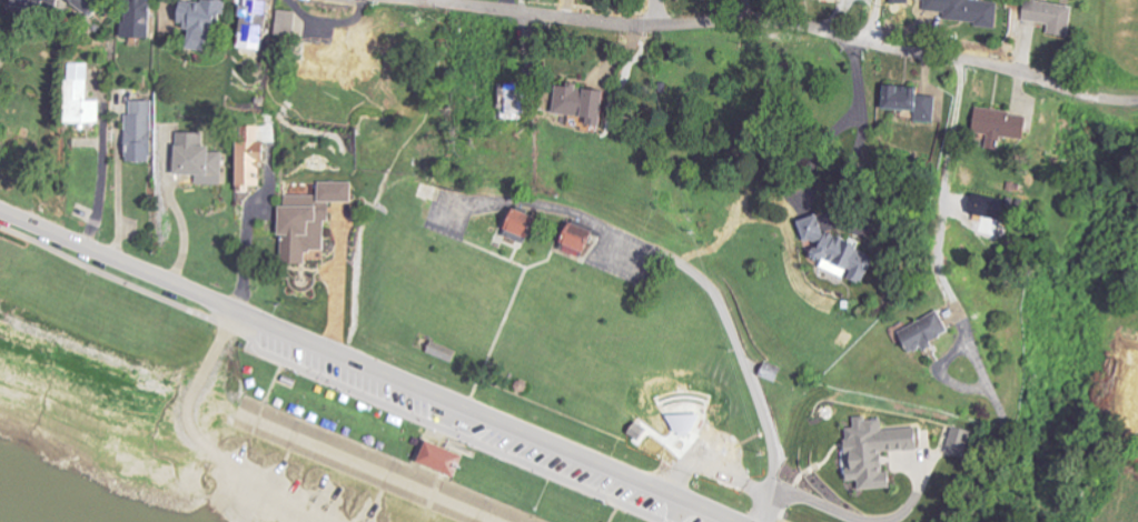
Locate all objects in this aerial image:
building: (86, 2)
road: (650, 11)
building: (969, 11)
building: (1055, 16)
building: (142, 20)
building: (210, 22)
building: (295, 22)
building: (263, 24)
road: (765, 26)
building: (327, 66)
building: (83, 97)
building: (916, 101)
building: (593, 102)
building: (996, 126)
road: (863, 129)
building: (142, 131)
building: (202, 158)
building: (253, 164)
road: (98, 174)
building: (419, 190)
building: (314, 219)
parking lot: (442, 220)
building: (513, 224)
building: (525, 227)
road: (553, 233)
building: (570, 237)
building: (582, 244)
building: (847, 249)
road: (574, 259)
parking lot: (614, 261)
road: (513, 263)
road: (941, 269)
road: (689, 271)
building: (932, 332)
building: (435, 350)
road: (368, 367)
building: (763, 370)
park: (502, 372)
building: (283, 380)
road: (326, 381)
road: (565, 416)
building: (637, 432)
road: (749, 435)
parking lot: (699, 449)
road: (702, 455)
building: (435, 459)
building: (451, 459)

